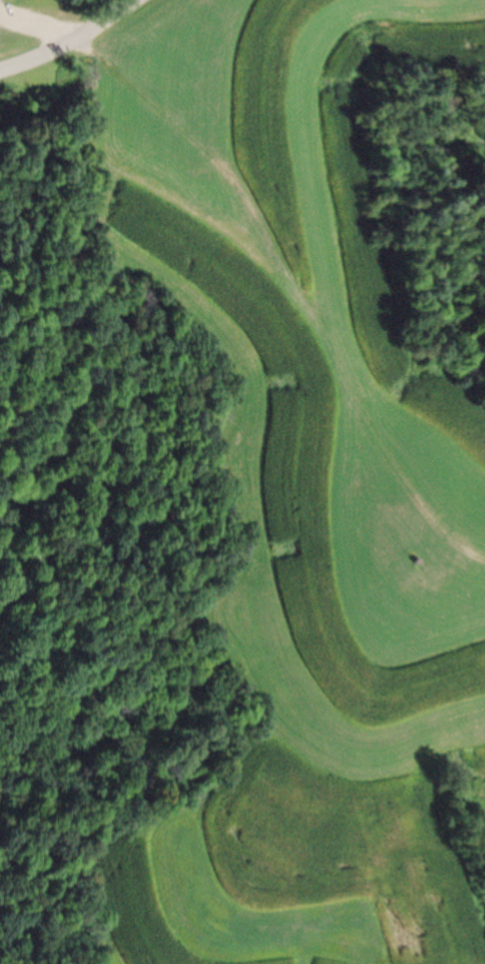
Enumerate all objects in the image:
road: (70, 42)

